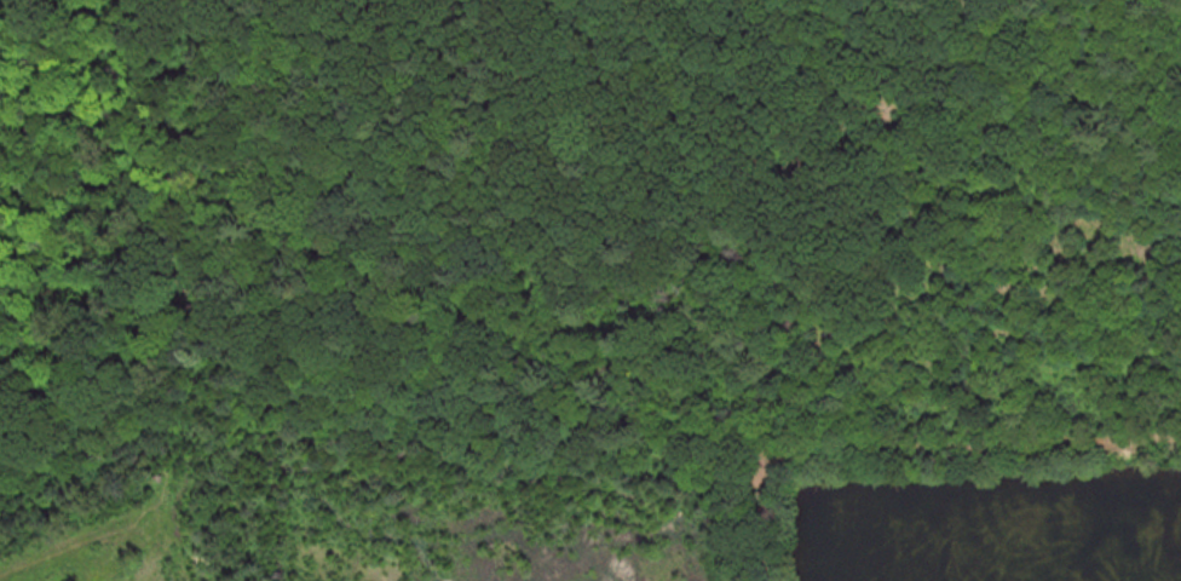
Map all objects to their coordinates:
park: (578, 217)

